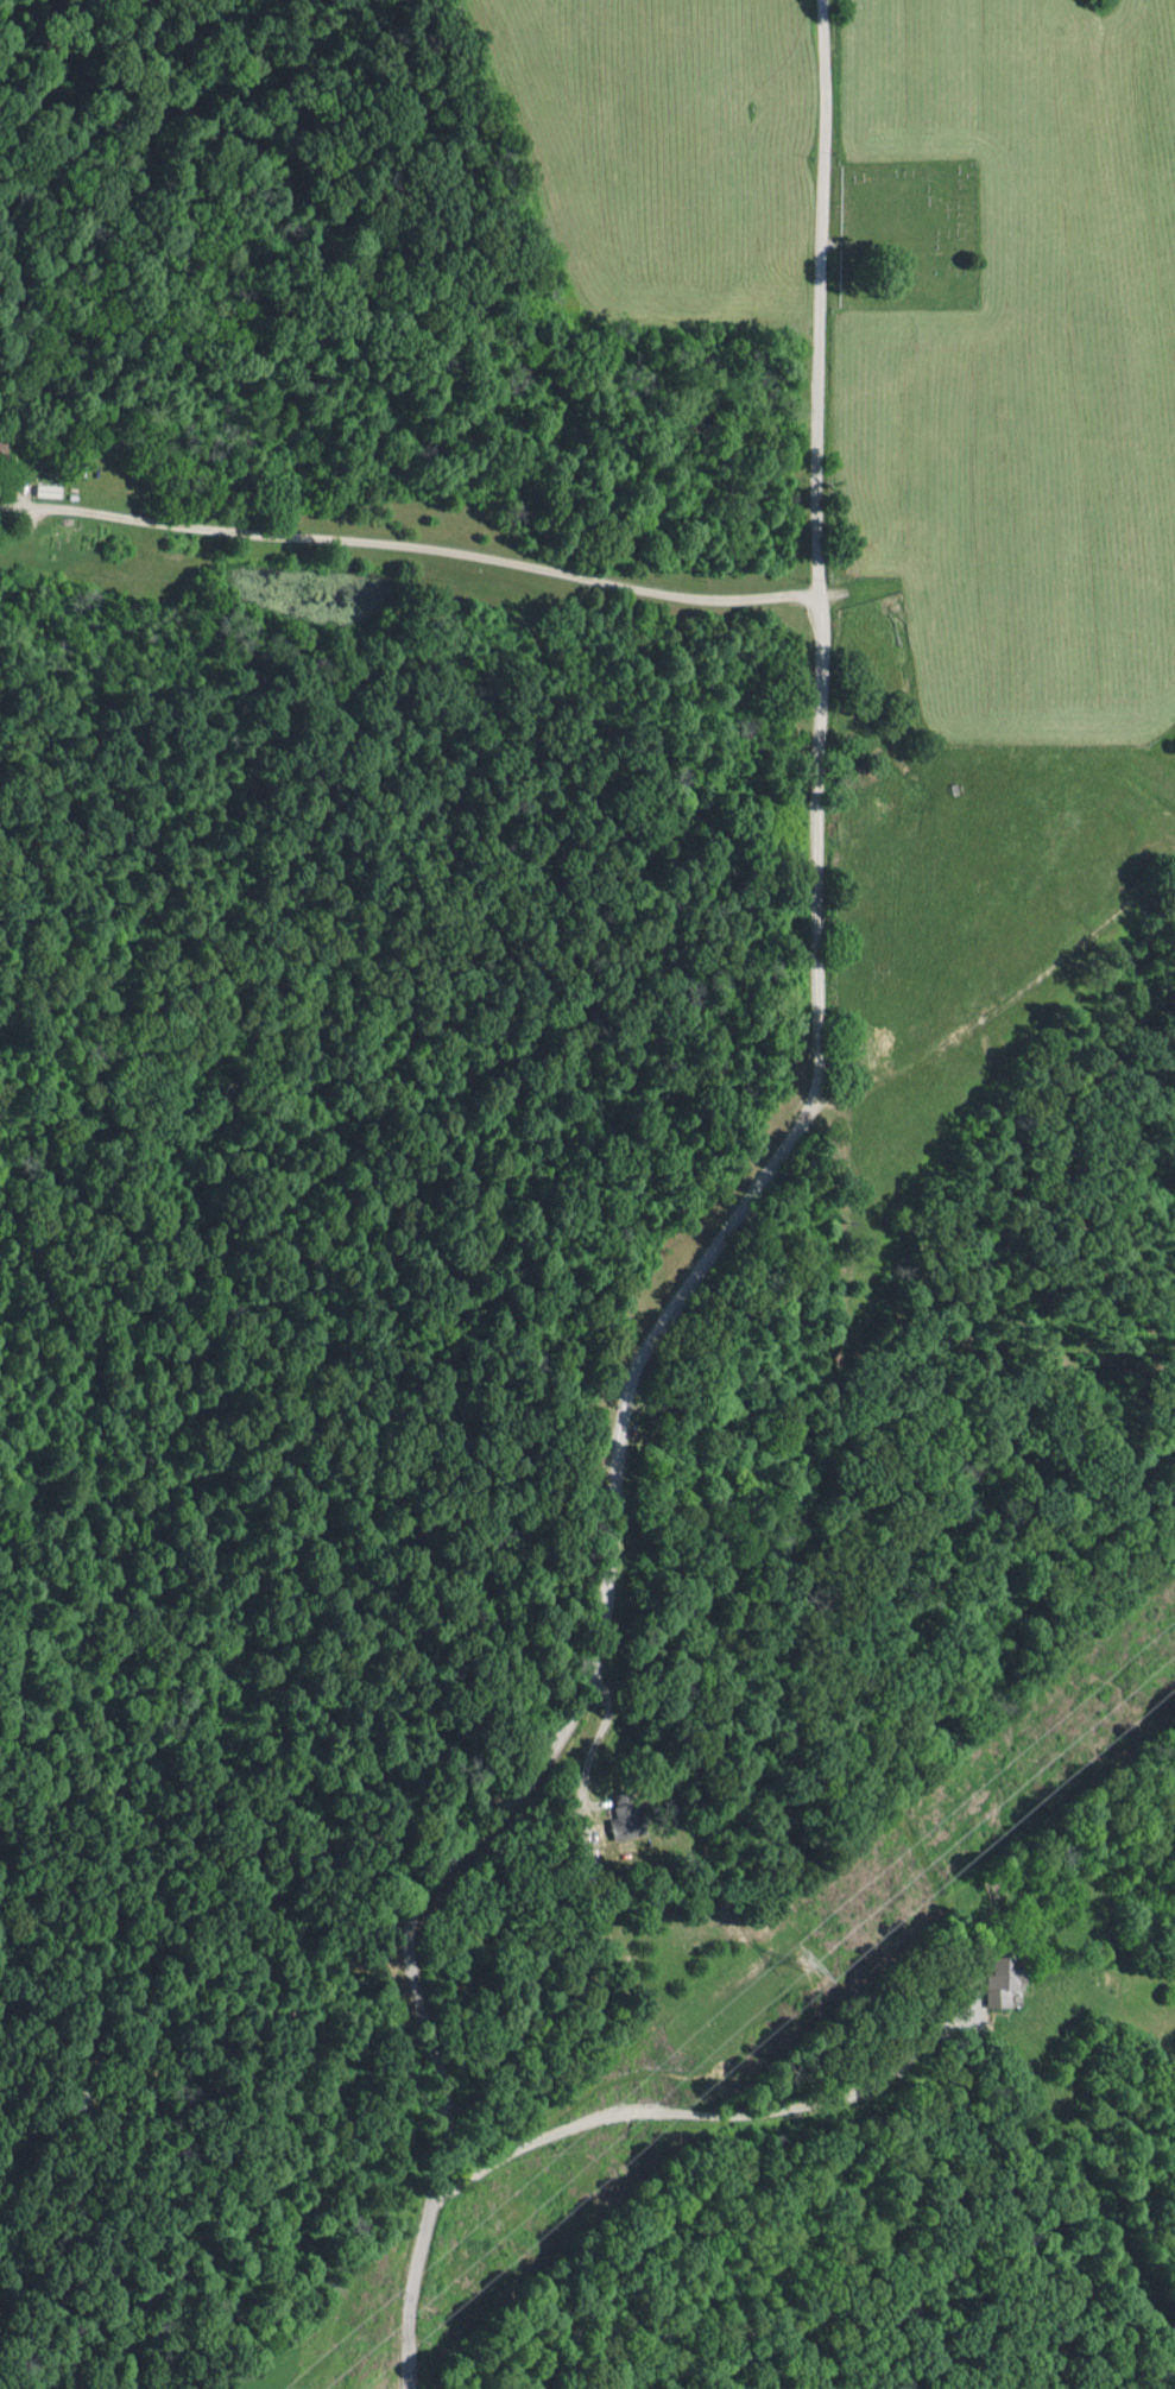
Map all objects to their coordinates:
building: (5, 450)
road: (410, 544)
road: (720, 1232)
building: (613, 1828)
power tower: (804, 1963)

